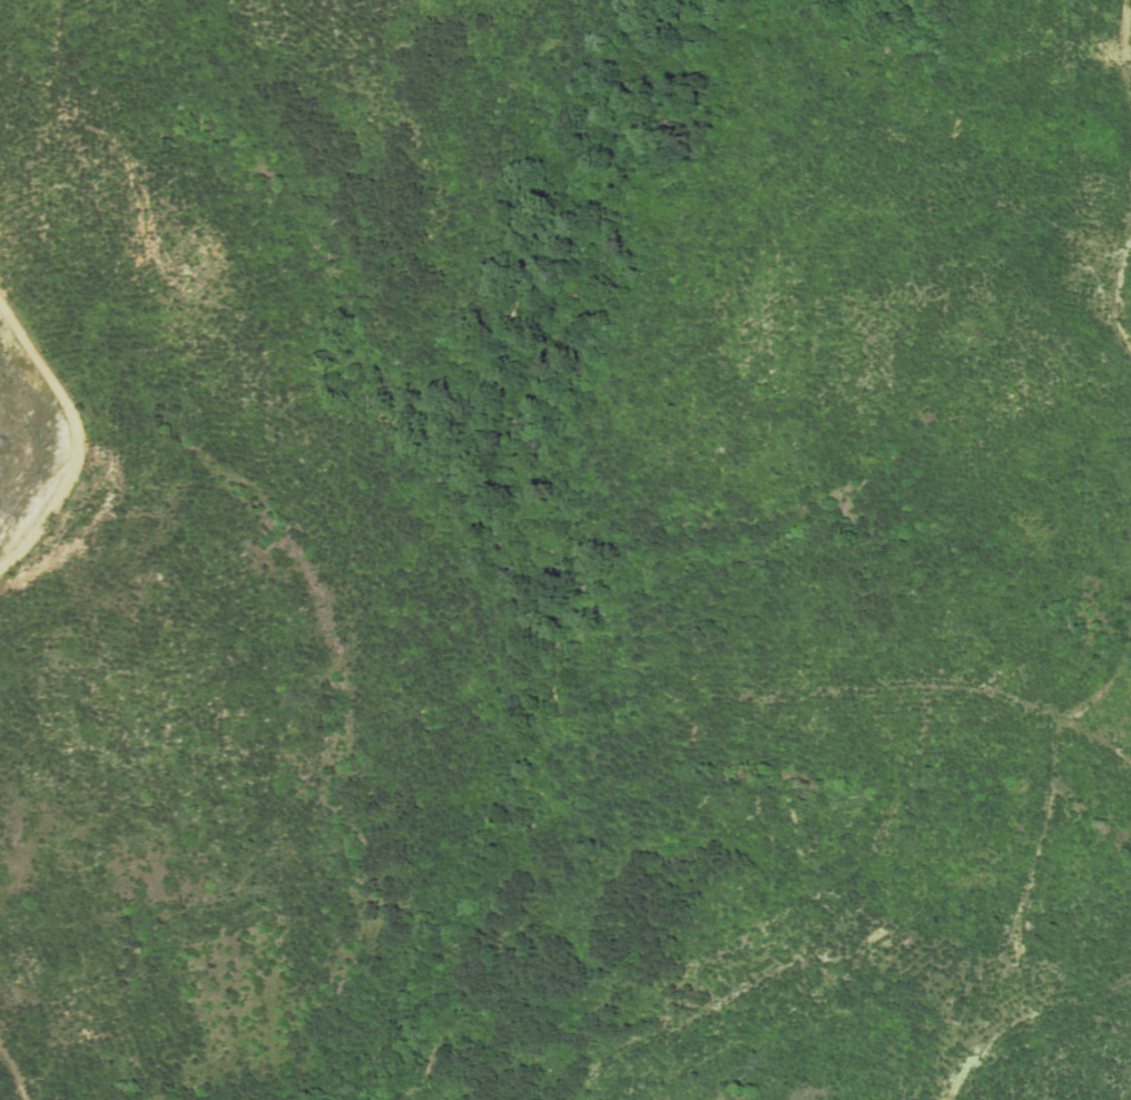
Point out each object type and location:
road: (79, 432)

